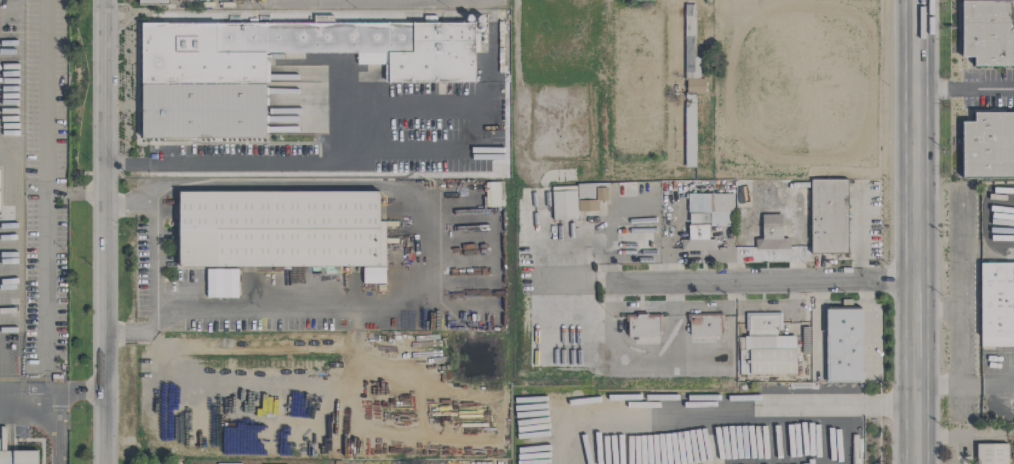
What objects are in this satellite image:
building: (153, 2)
building: (987, 32)
road: (965, 88)
building: (690, 91)
road: (917, 139)
building: (987, 146)
road: (389, 153)
road: (286, 185)
road: (72, 191)
building: (493, 194)
building: (577, 200)
building: (828, 217)
road: (156, 226)
building: (280, 230)
road: (103, 231)
building: (771, 234)
road: (958, 271)
building: (213, 283)
road: (763, 283)
road: (300, 299)
building: (997, 303)
road: (920, 319)
building: (704, 325)
building: (642, 327)
building: (843, 345)
building: (765, 347)
road: (967, 390)
road: (80, 393)
road: (57, 400)
road: (747, 406)
road: (916, 411)
road: (966, 434)
building: (991, 454)
building: (18, 457)

